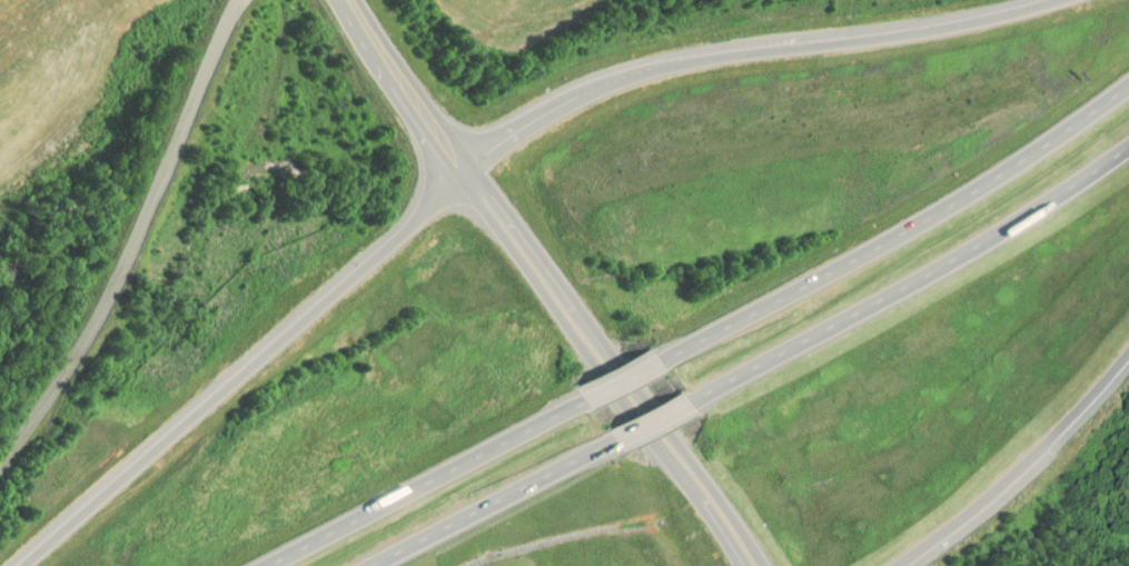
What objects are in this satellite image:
road: (492, 156)
road: (900, 237)
road: (135, 242)
road: (544, 281)
road: (914, 285)
road: (623, 386)
road: (654, 426)
road: (1024, 474)
road: (429, 486)
road: (506, 506)

